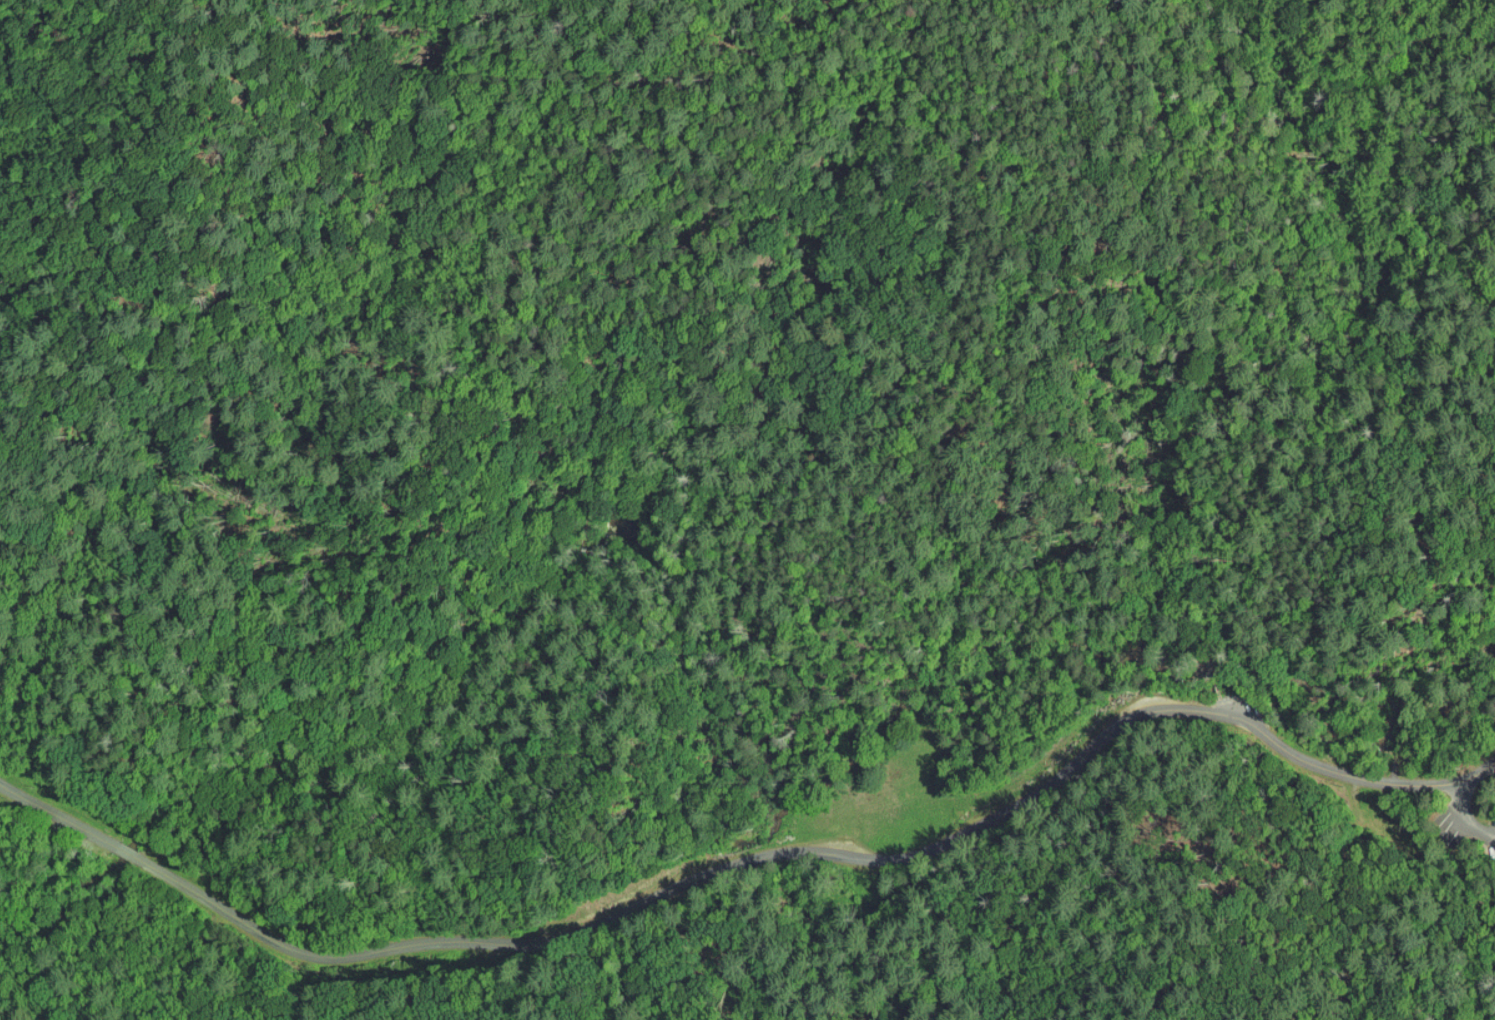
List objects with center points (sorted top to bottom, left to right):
road: (1476, 774)
road: (59, 812)
road: (1465, 816)
parking lot: (1489, 837)
road: (129, 850)
road: (806, 850)
road: (1458, 1011)
road: (1200, 1019)

